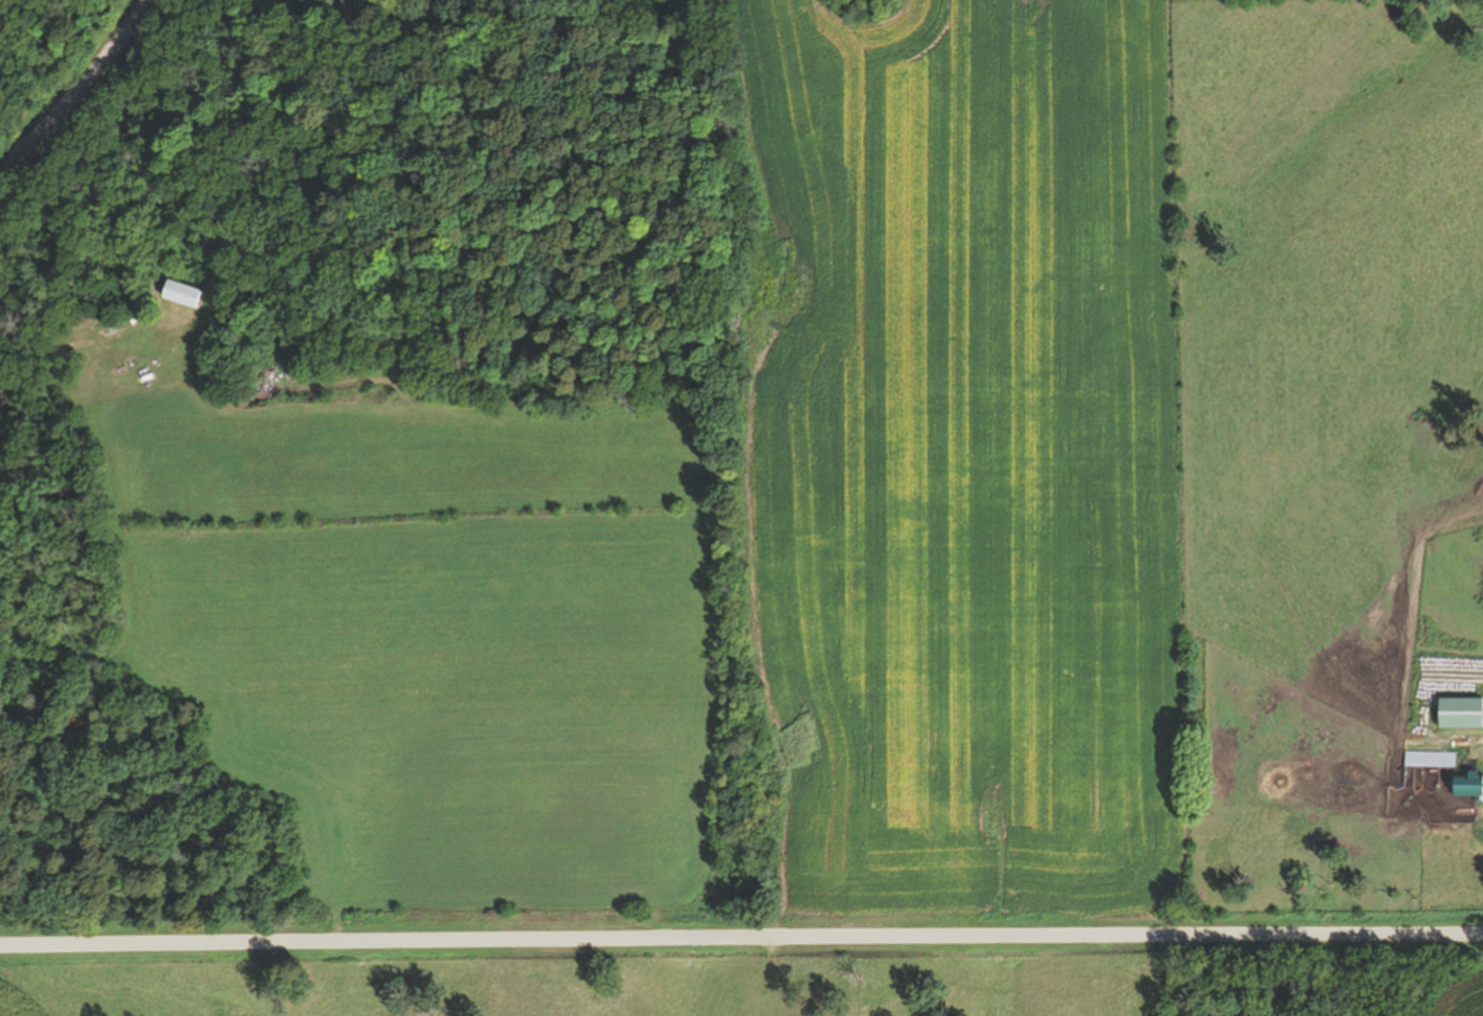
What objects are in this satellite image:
road: (78, 90)
building: (182, 294)
building: (1460, 712)
building: (1430, 759)
building: (1467, 786)
road: (741, 930)

